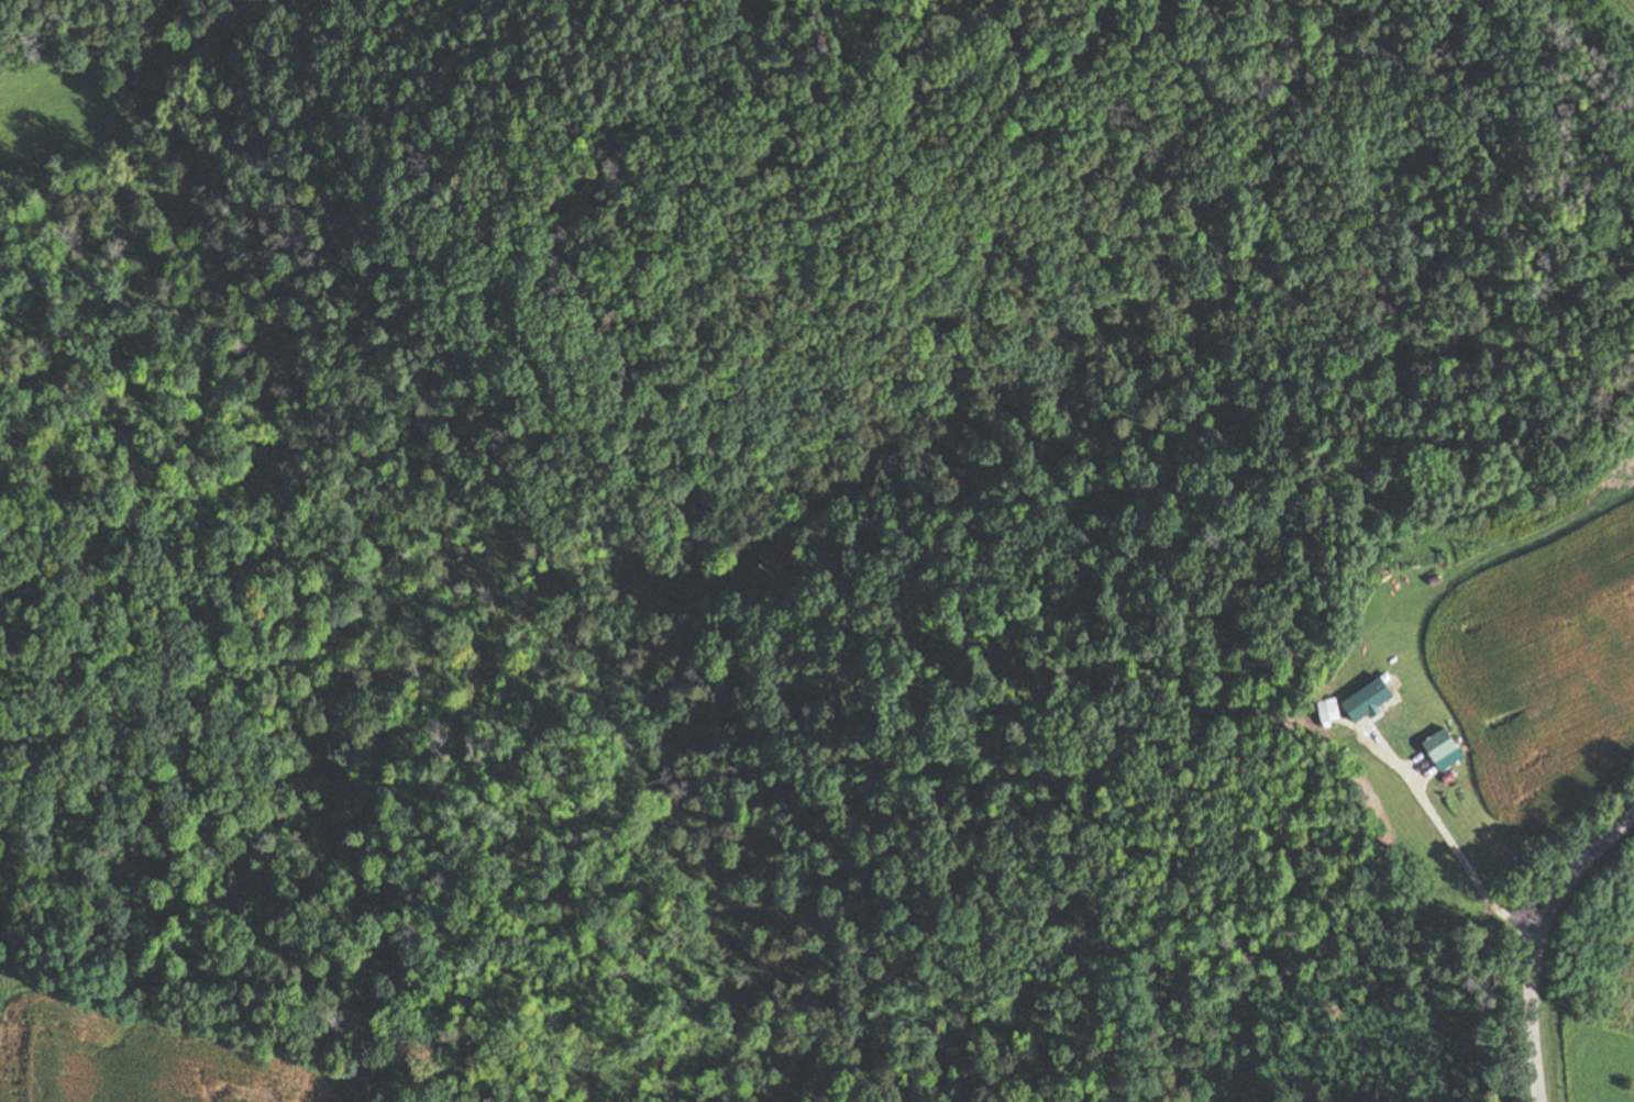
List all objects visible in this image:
building: (1361, 702)
building: (1433, 747)
road: (1446, 836)
road: (1533, 936)

